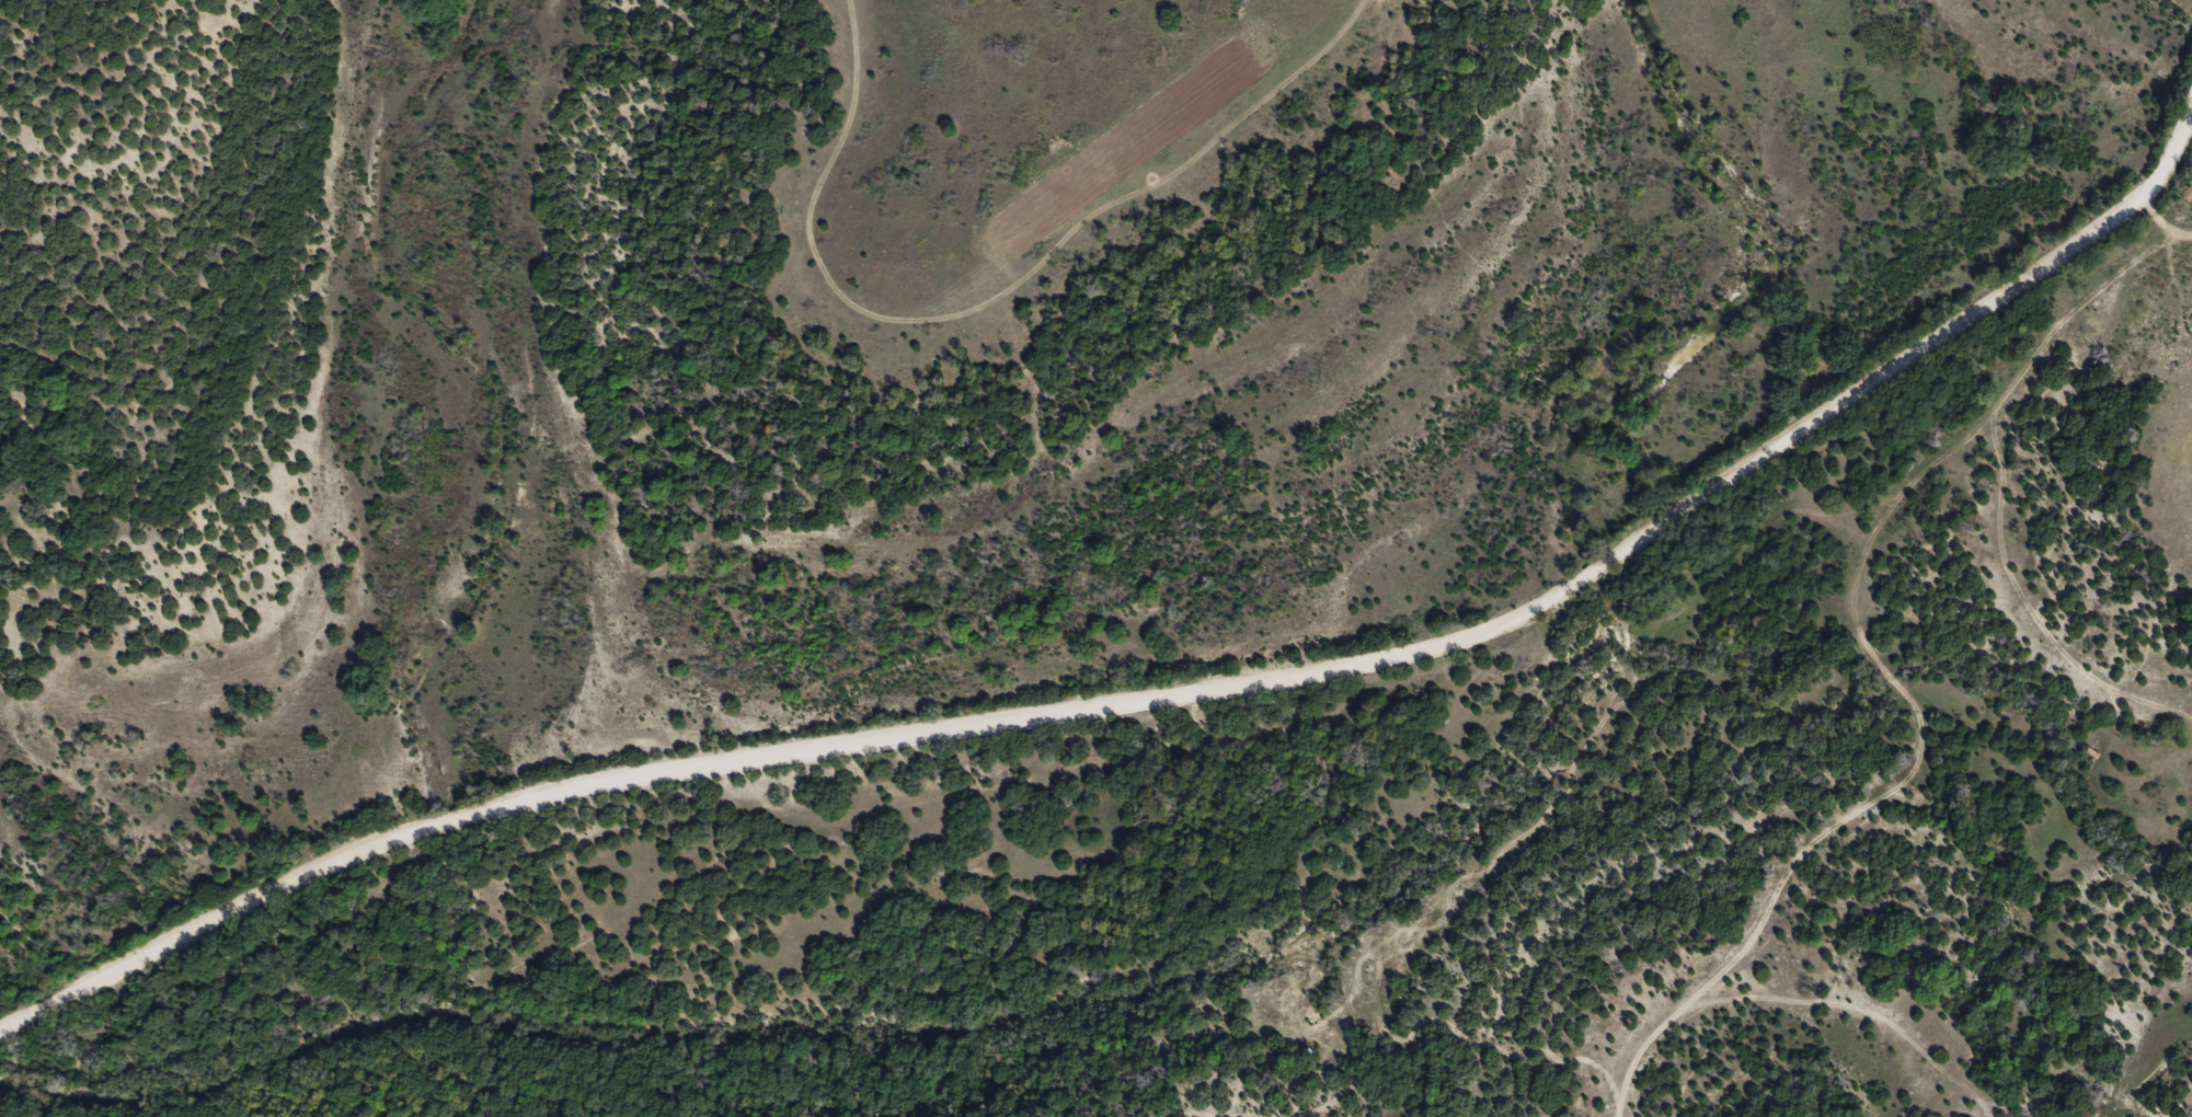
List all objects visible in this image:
road: (1162, 691)

